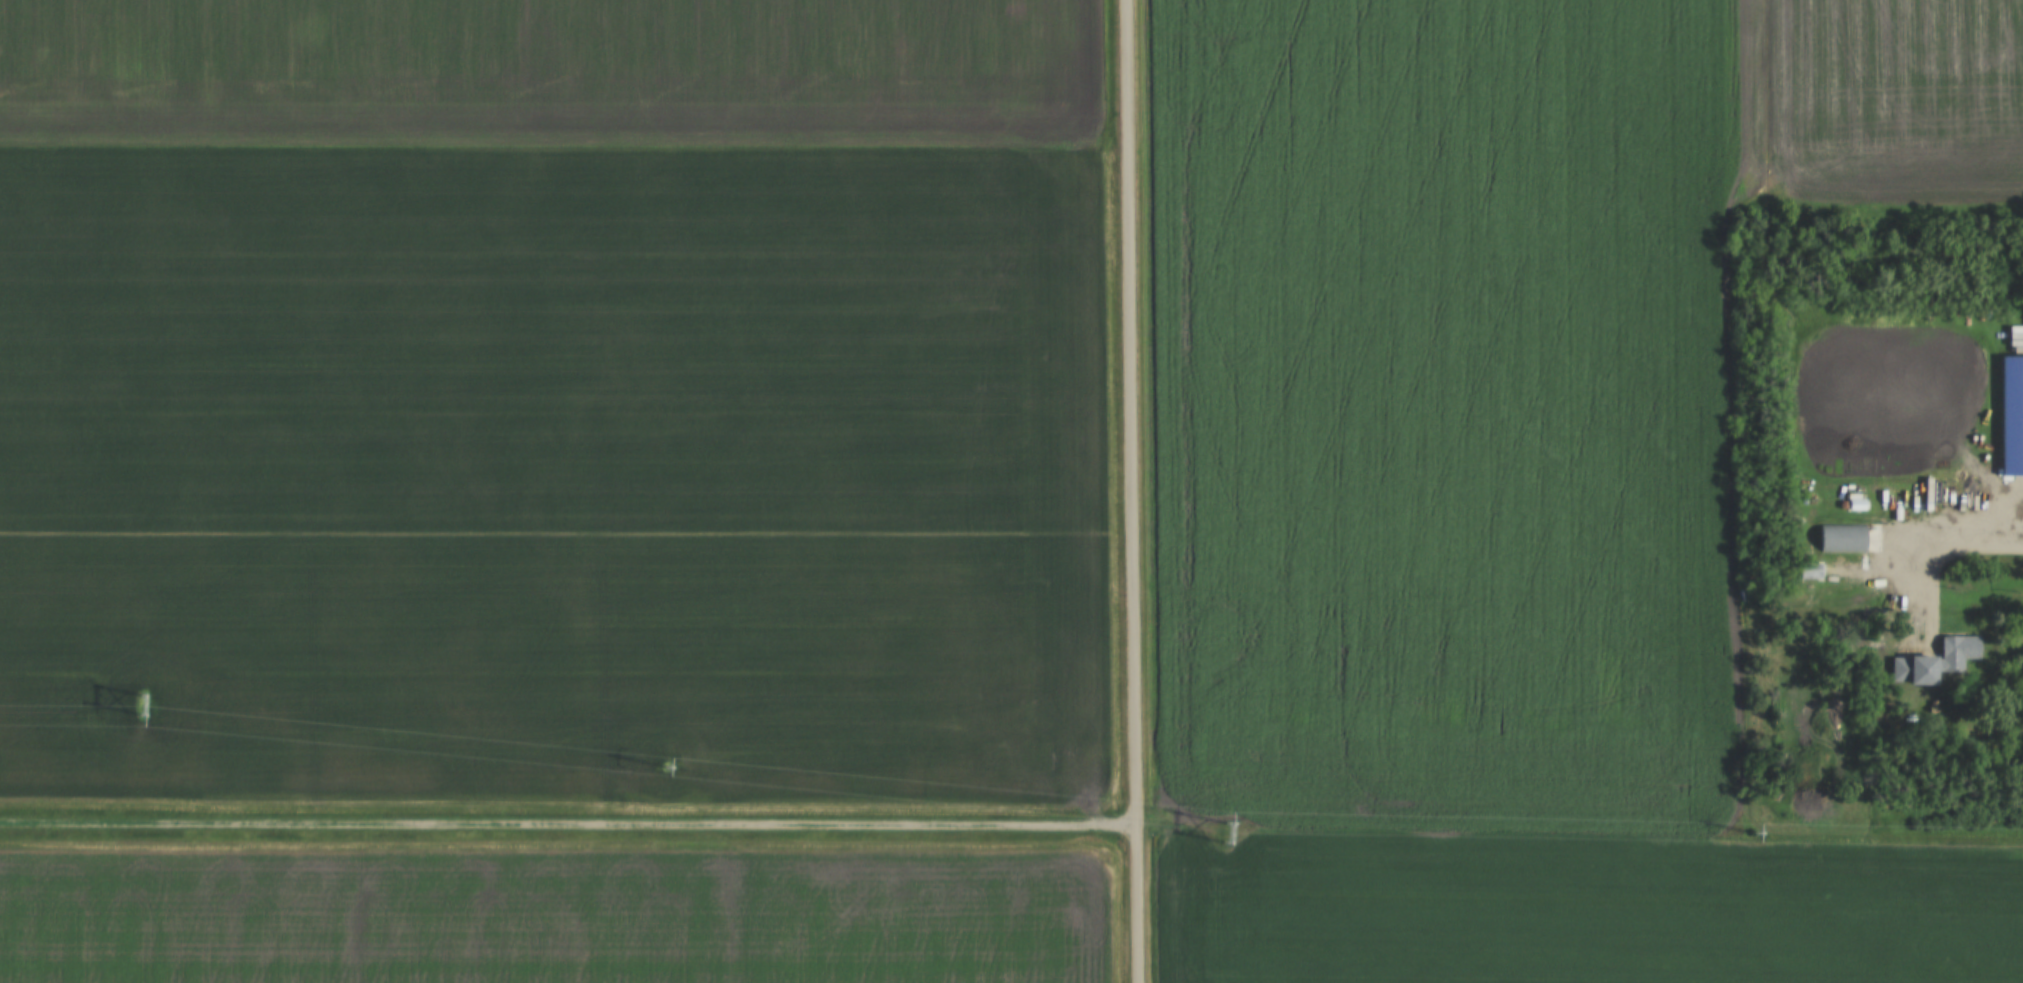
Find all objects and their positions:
road: (1126, 415)
building: (2012, 417)
building: (1842, 538)
road: (1991, 555)
building: (1958, 648)
power tower: (141, 719)
power tower: (663, 766)
power tower: (1228, 822)
road: (568, 828)
power tower: (1756, 838)
road: (1137, 906)

